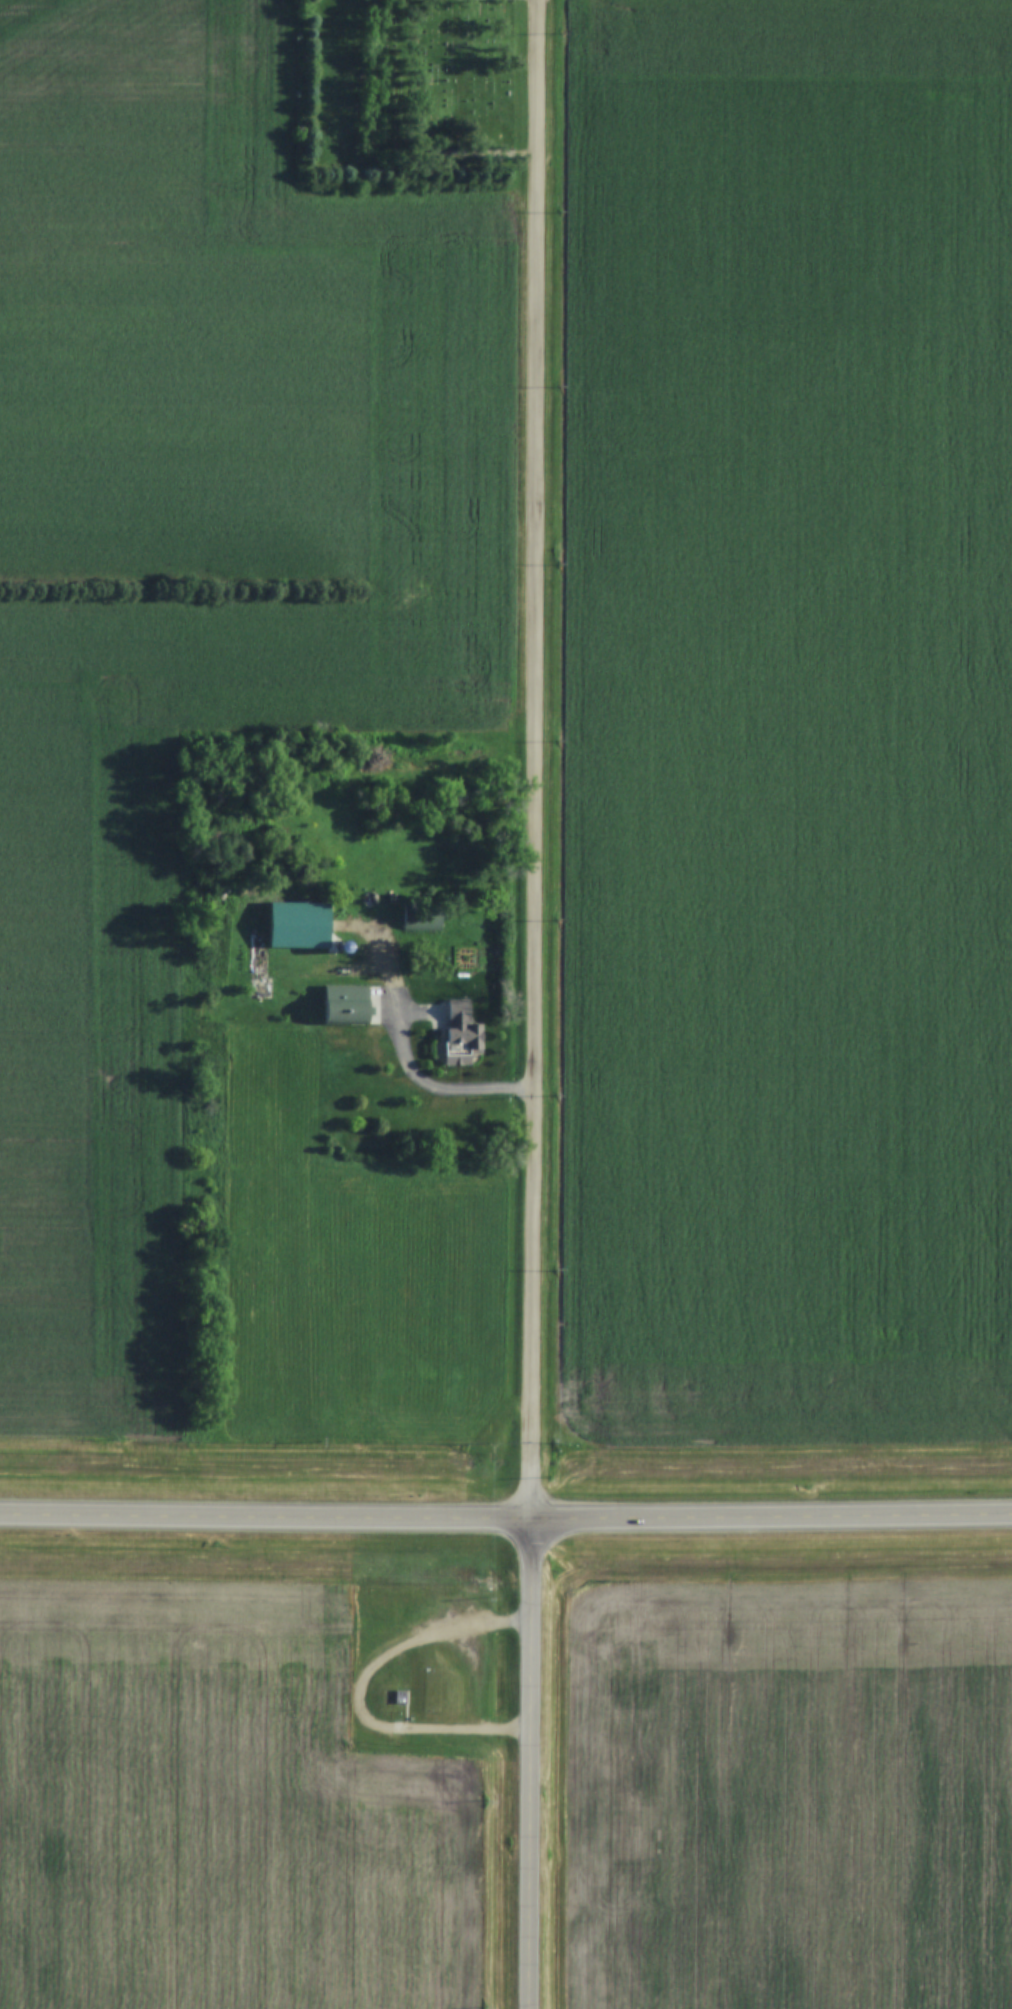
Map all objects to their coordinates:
park: (403, 96)
road: (538, 761)
building: (372, 896)
building: (422, 916)
building: (342, 947)
silo: (342, 947)
building: (345, 1004)
building: (463, 1026)
road: (419, 1076)
road: (772, 1518)
road: (266, 1520)
road: (365, 1696)
building: (398, 1697)
road: (533, 1765)

